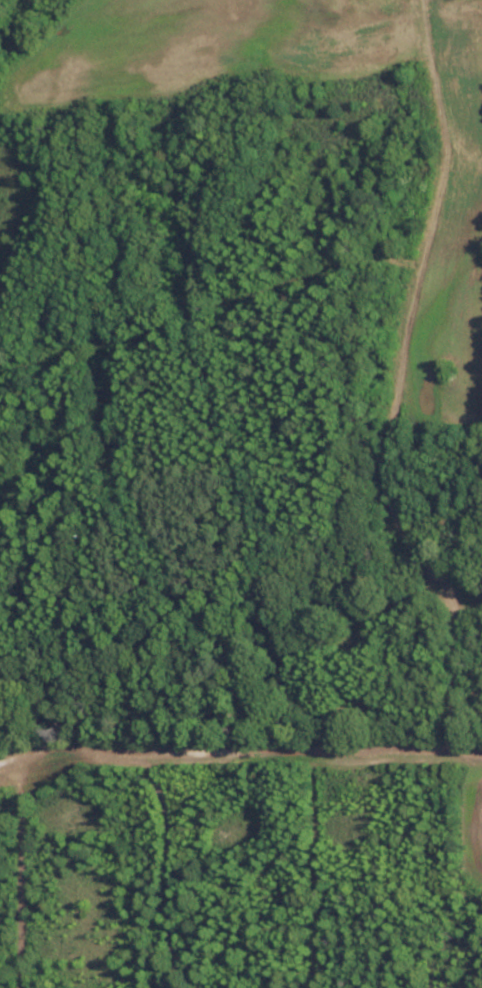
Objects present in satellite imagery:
road: (438, 95)

